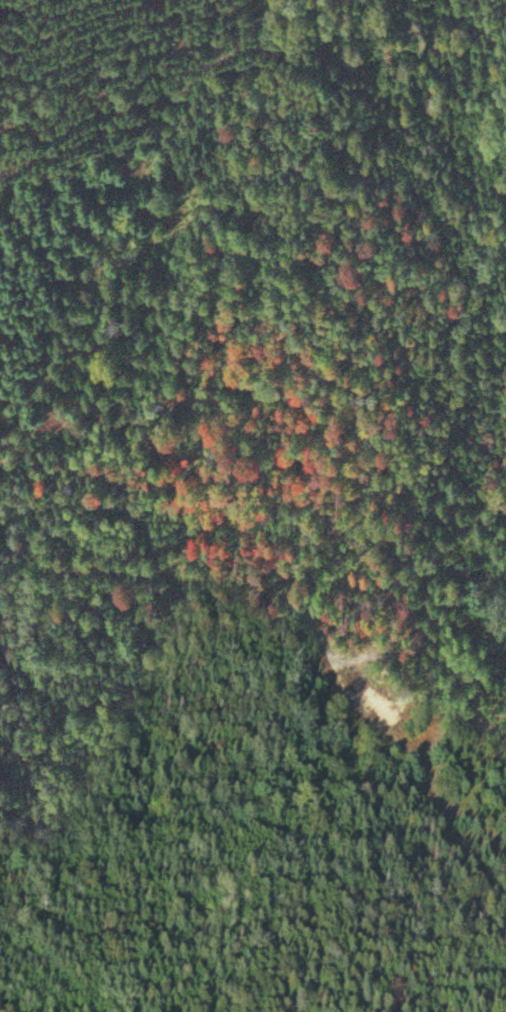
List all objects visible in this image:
road: (470, 813)

